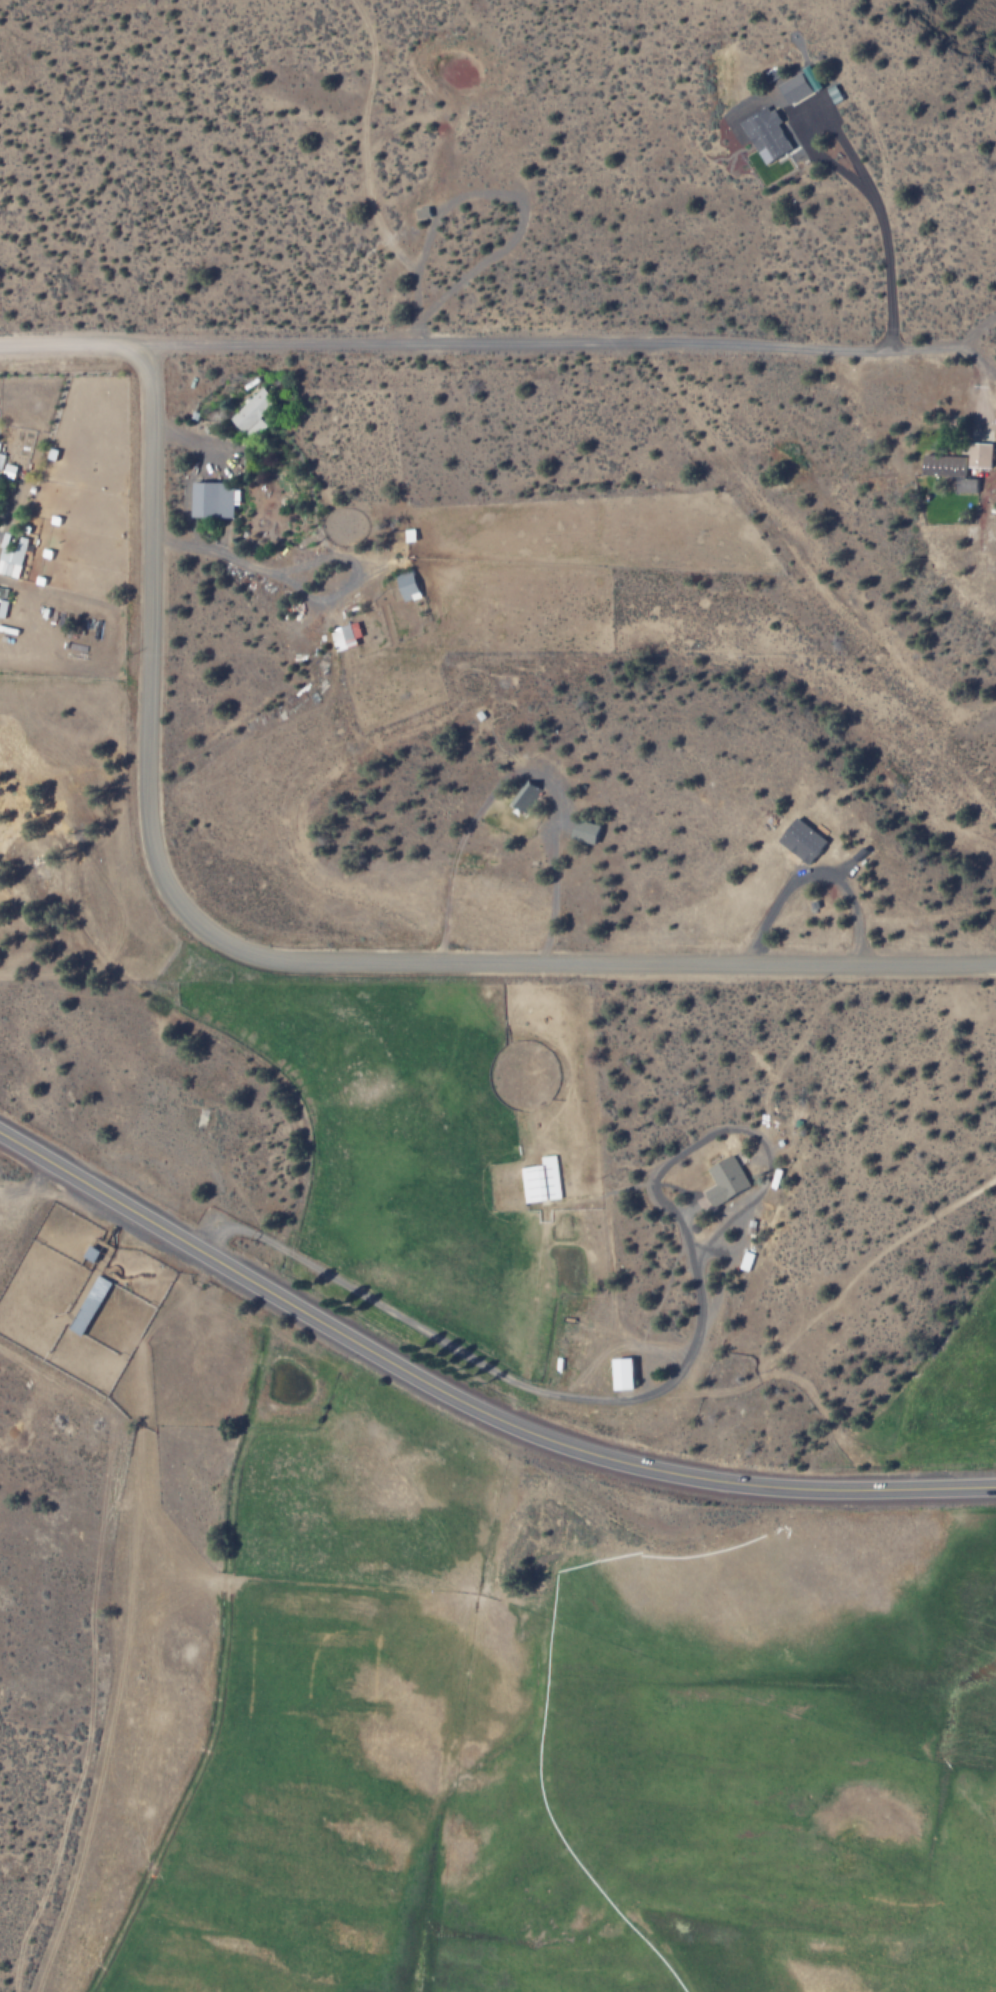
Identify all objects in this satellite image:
building: (796, 87)
building: (767, 134)
road: (498, 343)
road: (993, 343)
building: (254, 413)
building: (962, 465)
building: (216, 499)
building: (12, 555)
building: (409, 586)
building: (3, 601)
building: (346, 636)
building: (805, 842)
road: (295, 960)
building: (728, 1180)
building: (542, 1181)
building: (90, 1305)
road: (677, 1370)
building: (627, 1374)
crop: (941, 1396)
road: (468, 1404)
crop: (507, 1714)

